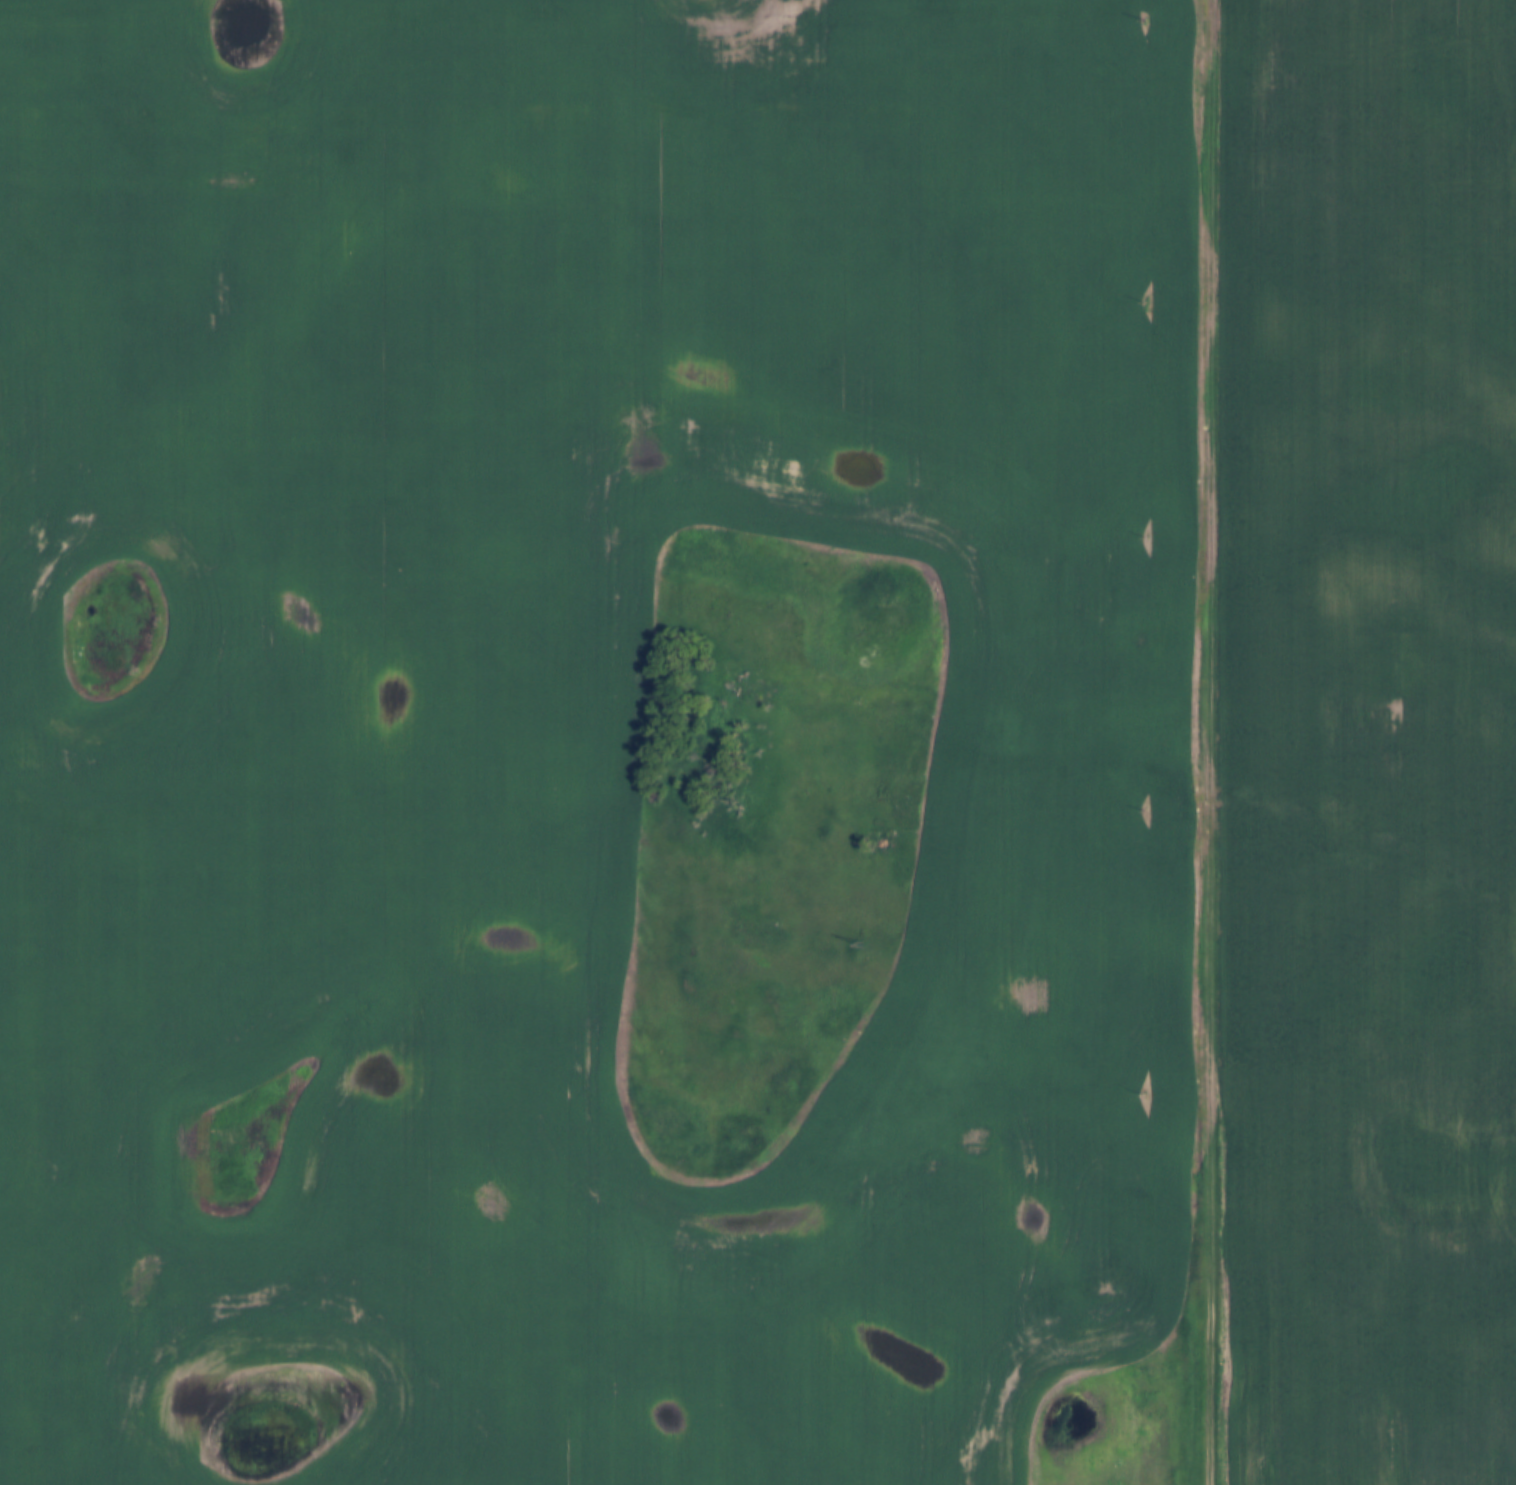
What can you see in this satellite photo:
road: (1217, 742)

